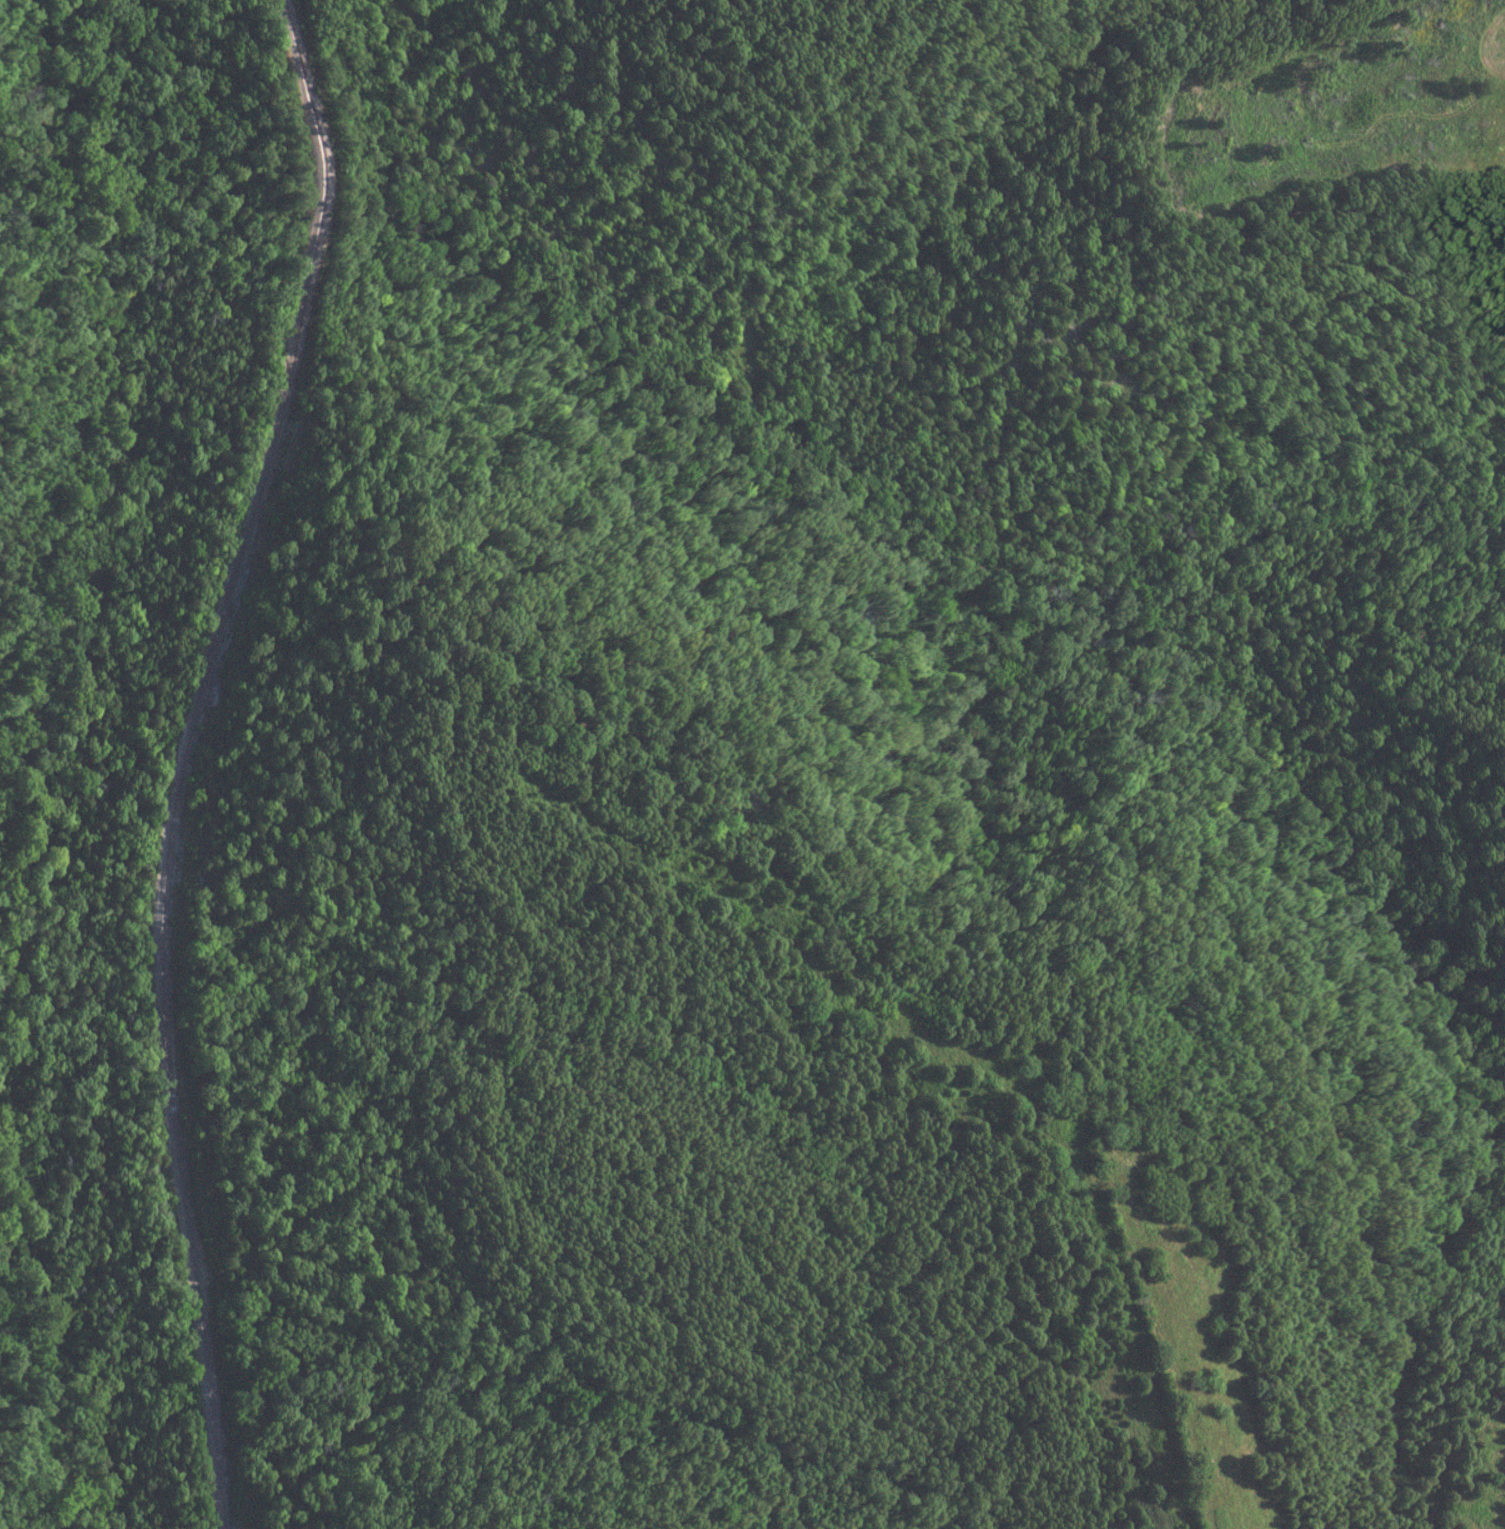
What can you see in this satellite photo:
railway: (153, 758)

